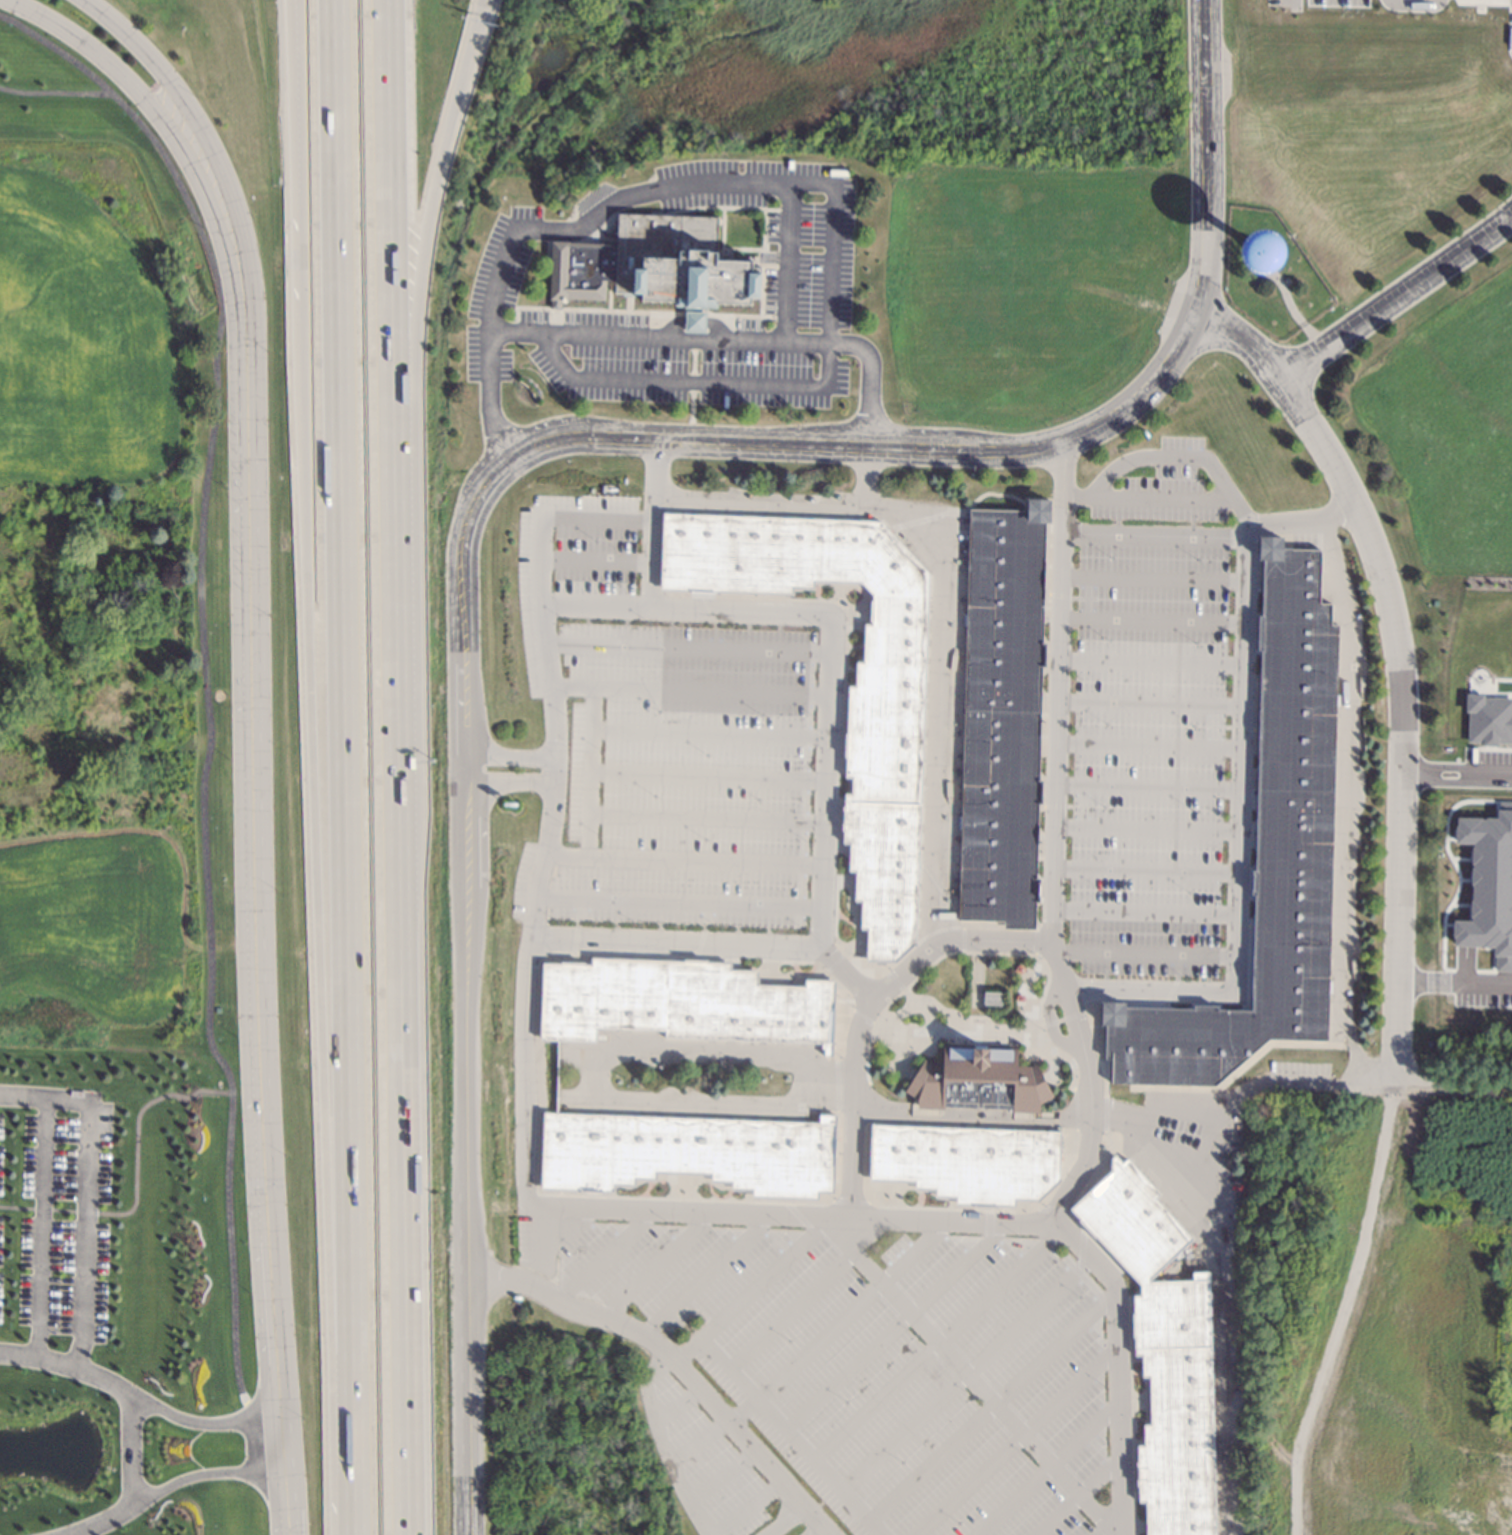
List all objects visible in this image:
road: (480, 19)
road: (146, 108)
road: (190, 111)
road: (1205, 158)
road: (720, 184)
road: (302, 208)
road: (598, 211)
road: (831, 244)
water tower: (1259, 261)
building: (678, 267)
building: (578, 271)
road: (787, 285)
parking lot: (806, 286)
road: (493, 289)
road: (1394, 298)
road: (693, 322)
road: (669, 327)
road: (715, 328)
road: (635, 338)
road: (1239, 341)
road: (867, 380)
road: (691, 385)
road: (488, 422)
road: (1086, 431)
road: (701, 441)
road: (1135, 459)
road: (381, 464)
road: (1060, 470)
road: (863, 479)
road: (413, 481)
road: (1145, 500)
road: (1060, 511)
road: (1297, 523)
road: (650, 524)
road: (1150, 537)
road: (536, 551)
road: (592, 562)
road: (1149, 582)
road: (947, 593)
road: (593, 608)
road: (1148, 622)
road: (685, 651)
road: (1147, 665)
road: (687, 692)
road: (1146, 706)
building: (1005, 714)
parking lot: (1146, 718)
road: (1397, 719)
building: (887, 732)
road: (705, 735)
parking lot: (655, 746)
road: (1145, 746)
road: (507, 758)
road: (314, 767)
road: (343, 767)
road: (1454, 768)
road: (553, 772)
road: (586, 774)
road: (704, 777)
road: (507, 784)
road: (1144, 788)
road: (1234, 803)
road: (1344, 804)
road: (703, 819)
road: (1143, 831)
road: (819, 834)
building: (1269, 854)
road: (680, 862)
road: (1142, 873)
road: (534, 892)
road: (257, 895)
road: (675, 904)
road: (1141, 914)
road: (1047, 943)
road: (1141, 955)
road: (842, 976)
road: (1452, 980)
road: (1014, 988)
building: (993, 999)
road: (463, 1002)
building: (685, 1003)
road: (1047, 1023)
road: (594, 1059)
parking lot: (1296, 1070)
road: (673, 1081)
building: (983, 1081)
road: (1086, 1086)
road: (1452, 1088)
road: (1236, 1096)
building: (690, 1153)
parking lot: (1193, 1160)
road: (1155, 1161)
building: (972, 1163)
road: (1206, 1189)
road: (88, 1192)
road: (820, 1219)
road: (42, 1227)
road: (398, 1231)
road: (543, 1231)
road: (847, 1235)
road: (599, 1259)
road: (650, 1267)
road: (700, 1276)
road: (803, 1294)
road: (890, 1328)
road: (934, 1345)
road: (809, 1346)
building: (1161, 1346)
road: (672, 1364)
road: (727, 1368)
parking lot: (855, 1372)
road: (960, 1372)
road: (963, 1374)
road: (655, 1391)
road: (1226, 1397)
road: (139, 1398)
road: (679, 1403)
road: (987, 1408)
road: (1009, 1441)
road: (131, 1451)
road: (815, 1466)
road: (1041, 1468)
road: (718, 1475)
road: (172, 1485)
road: (1074, 1496)
road: (782, 1521)
road: (1111, 1525)
road: (1098, 1530)
road: (815, 1531)
road: (81, 1533)

